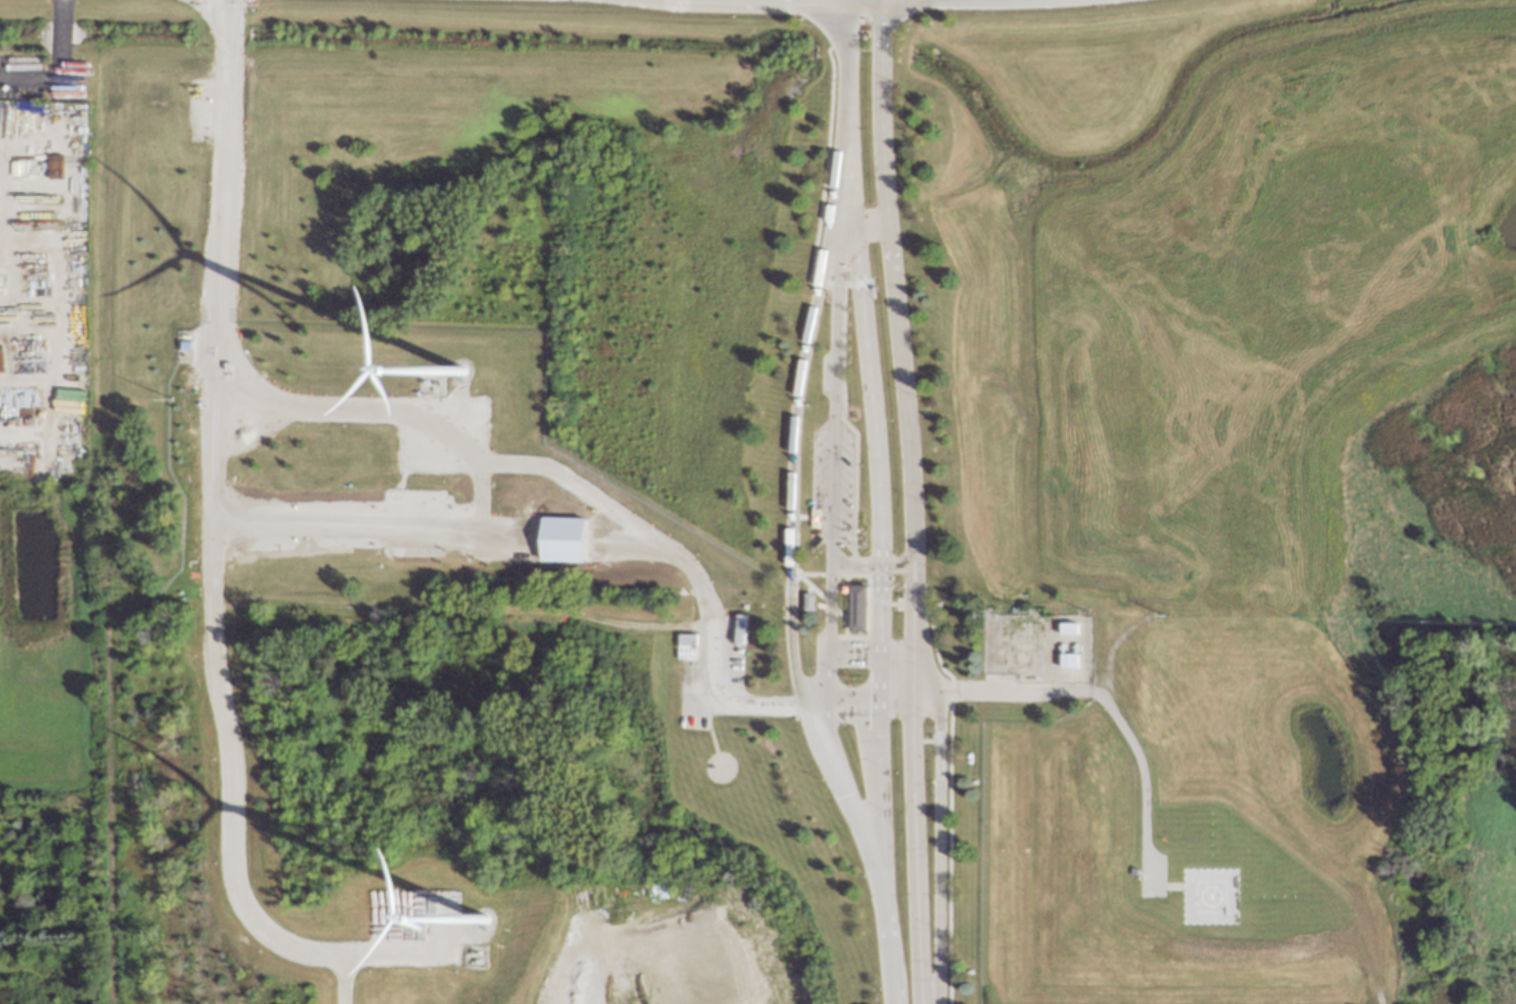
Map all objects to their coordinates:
road: (53, 67)
road: (224, 196)
road: (856, 283)
road: (889, 283)
road: (839, 295)
road: (808, 317)
wind turbine: (462, 371)
road: (828, 479)
building: (564, 539)
road: (489, 543)
road: (851, 564)
road: (892, 566)
building: (808, 602)
building: (855, 607)
road: (883, 700)
road: (223, 723)
road: (946, 724)
road: (814, 748)
road: (874, 785)
road: (908, 785)
road: (934, 849)
wind turbine: (482, 917)
road: (556, 970)
road: (1376, 999)

